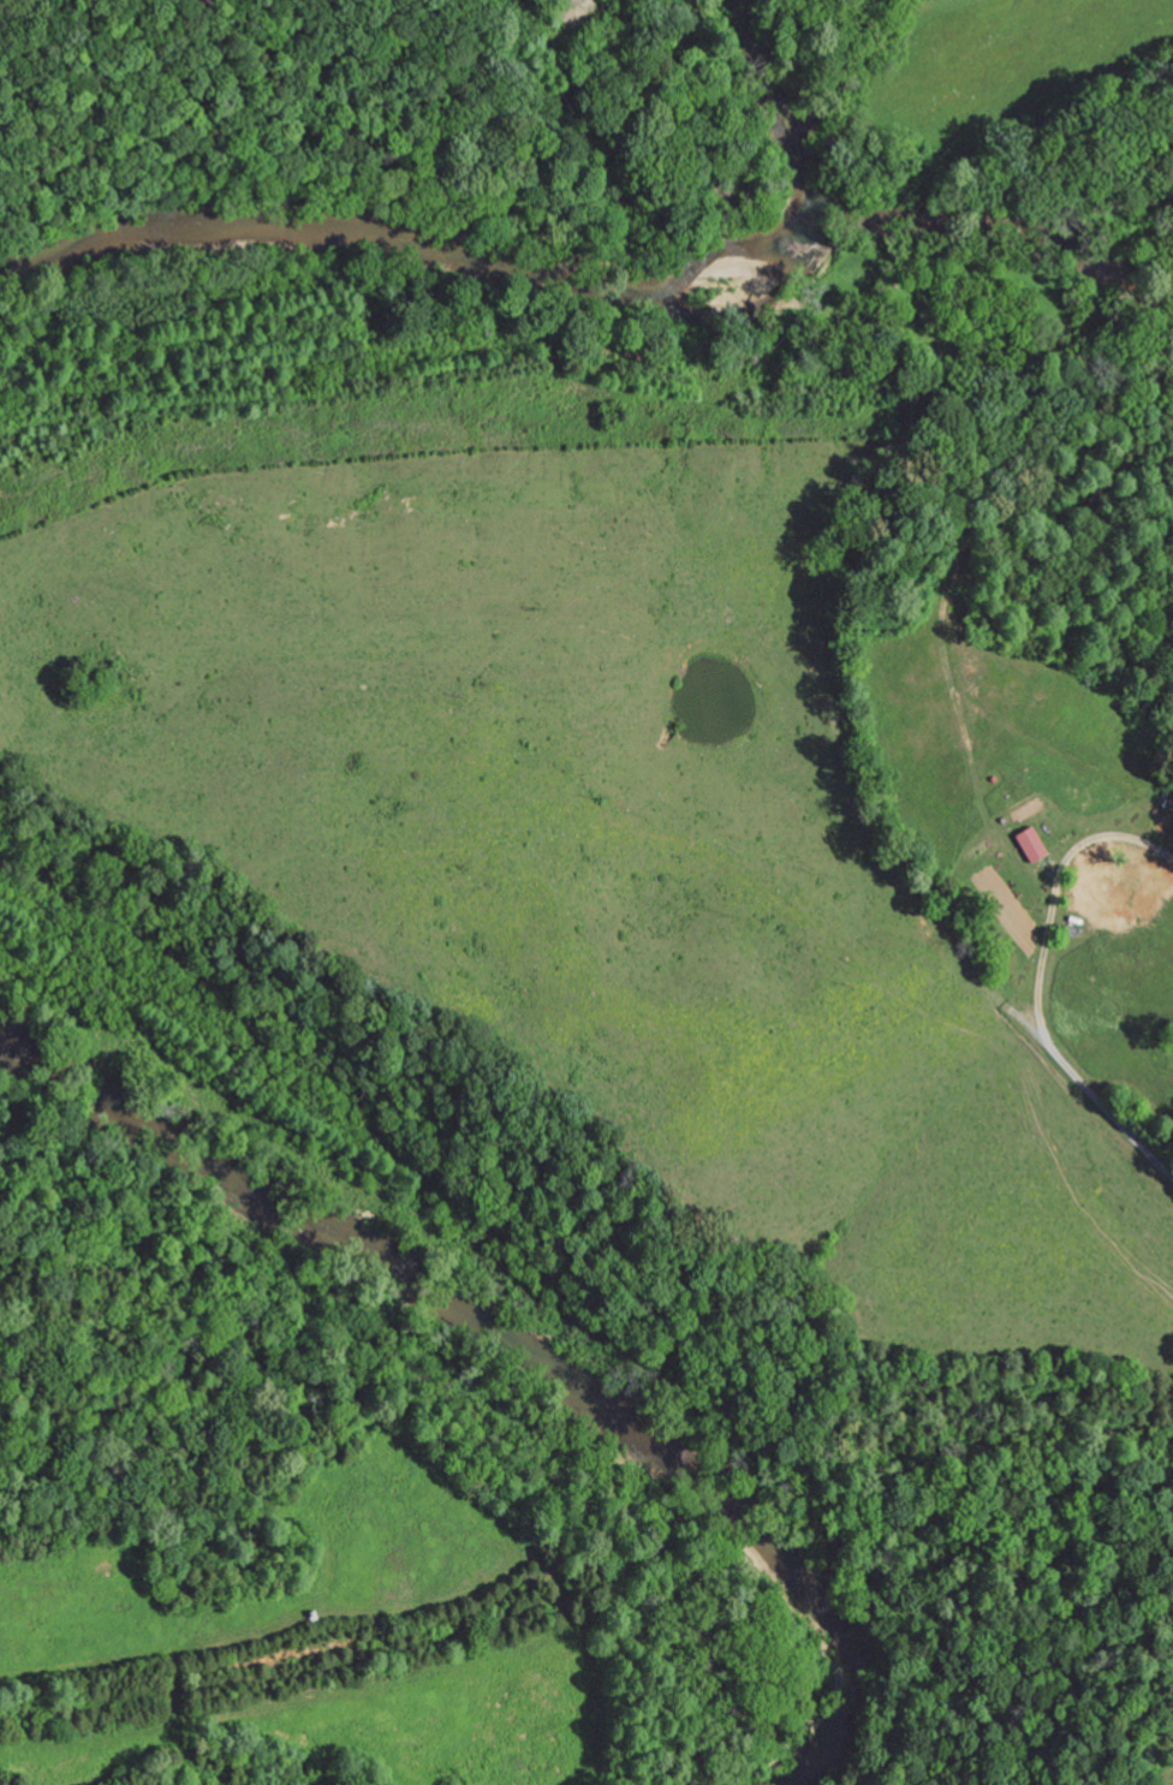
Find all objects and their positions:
building: (1031, 844)
road: (381, 1634)

